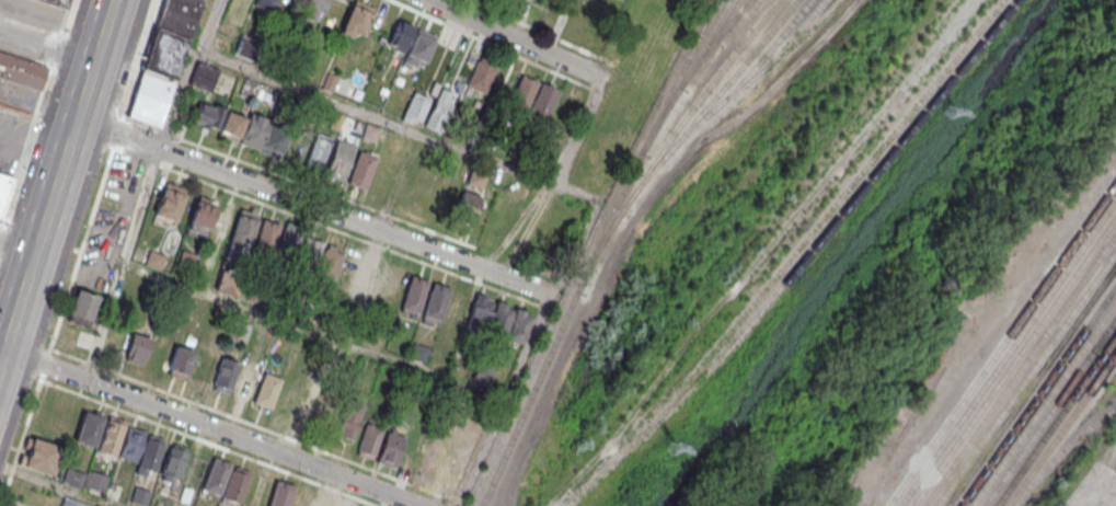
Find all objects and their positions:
building: (525, 0)
building: (55, 3)
building: (266, 4)
building: (315, 4)
parking lot: (33, 12)
road: (65, 18)
railway: (732, 20)
building: (355, 22)
road: (508, 28)
railway: (707, 43)
railway: (789, 43)
building: (411, 45)
road: (46, 48)
building: (162, 59)
railway: (760, 61)
road: (39, 62)
building: (21, 70)
railway: (689, 72)
building: (480, 74)
building: (203, 76)
railway: (729, 81)
building: (522, 92)
parking lot: (18, 95)
railway: (699, 100)
building: (543, 101)
building: (415, 108)
building: (438, 110)
power tower: (947, 110)
building: (219, 120)
railway: (690, 130)
building: (261, 133)
road: (418, 133)
parking lot: (11, 137)
road: (32, 145)
building: (295, 151)
building: (318, 151)
building: (338, 159)
building: (361, 169)
building: (475, 180)
road: (57, 181)
building: (3, 191)
building: (169, 203)
building: (456, 203)
road: (313, 207)
building: (200, 216)
railway: (825, 217)
parking lot: (111, 221)
building: (242, 230)
building: (266, 235)
building: (288, 242)
road: (16, 250)
railway: (595, 250)
road: (79, 252)
building: (310, 253)
railway: (801, 262)
building: (330, 263)
building: (371, 273)
building: (394, 278)
building: (223, 287)
building: (413, 296)
railway: (1092, 299)
building: (435, 303)
building: (458, 304)
building: (81, 307)
building: (480, 311)
building: (509, 322)
railway: (1002, 344)
building: (135, 348)
building: (418, 352)
railway: (1009, 353)
road: (0, 357)
railway: (1013, 360)
building: (179, 361)
railway: (1020, 369)
building: (223, 375)
building: (482, 375)
railway: (1026, 378)
building: (245, 383)
building: (265, 390)
building: (286, 393)
railway: (1038, 395)
road: (503, 400)
railway: (1044, 404)
building: (320, 405)
railway: (1049, 412)
building: (349, 418)
railway: (1056, 421)
road: (249, 423)
road: (210, 428)
building: (87, 429)
railway: (1061, 429)
building: (110, 436)
building: (368, 440)
road: (208, 441)
building: (129, 444)
power tower: (669, 444)
building: (390, 449)
building: (148, 455)
building: (38, 456)
building: (172, 463)
building: (193, 470)
building: (216, 475)
building: (72, 478)
building: (94, 480)
building: (233, 486)
building: (139, 496)
building: (279, 496)
building: (325, 501)
building: (71, 503)
road: (1085, 505)

